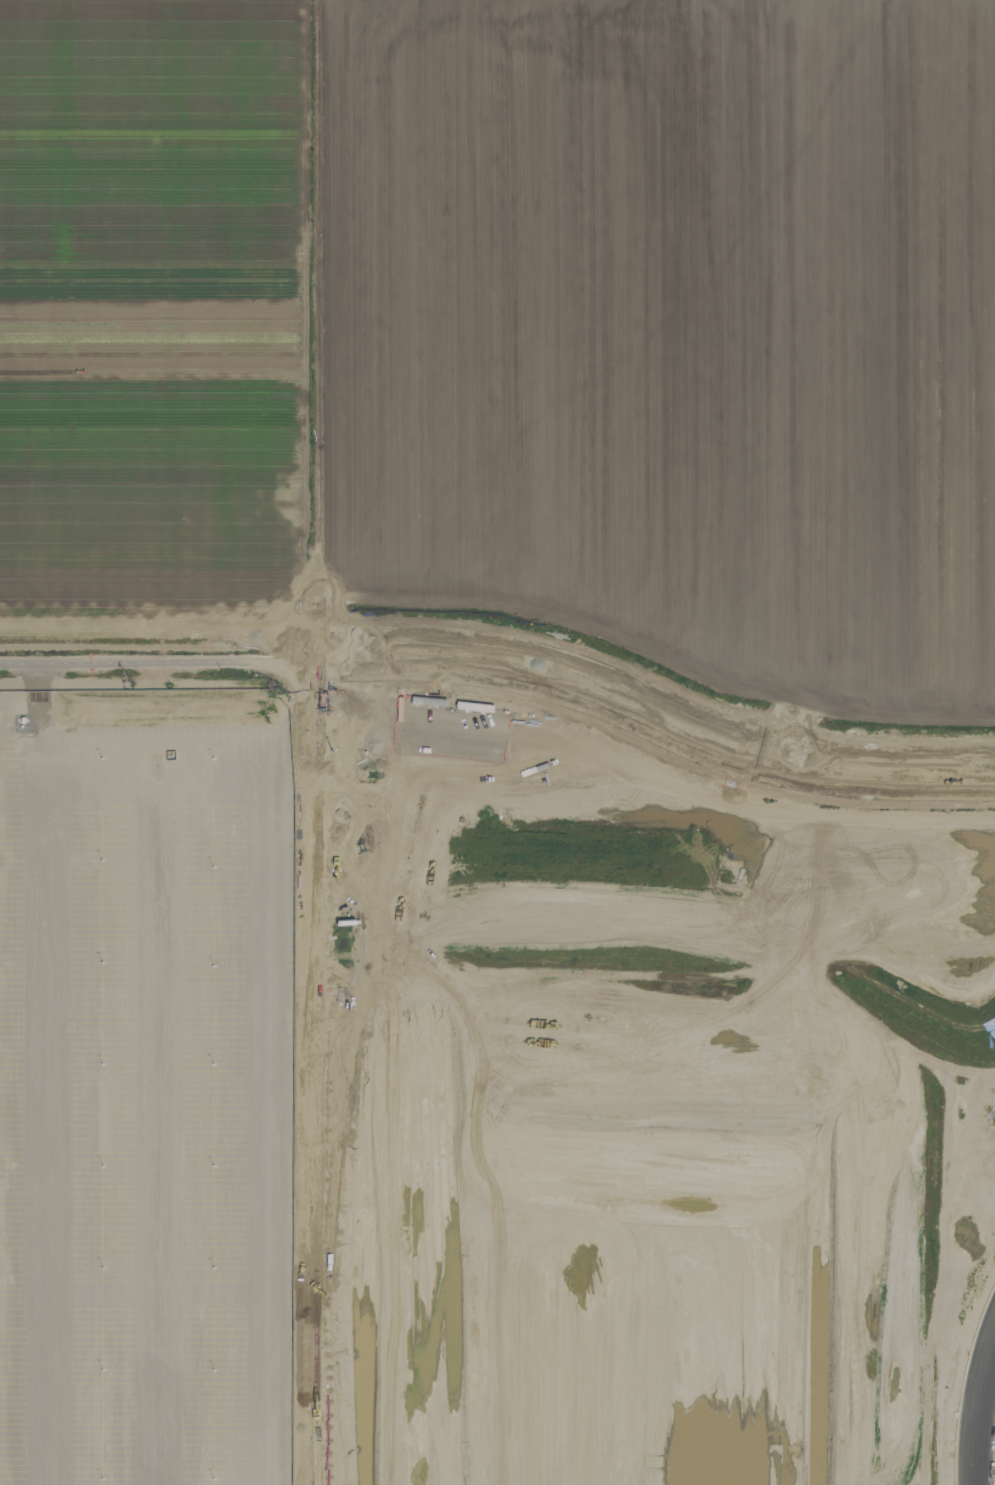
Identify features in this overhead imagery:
crop: (157, 323)
crop: (655, 391)
road: (154, 659)
road: (101, 695)
road: (40, 701)
road: (652, 713)
road: (148, 723)
building: (202, 732)
building: (257, 734)
building: (33, 737)
road: (78, 737)
building: (172, 739)
building: (119, 754)
building: (171, 762)
building: (67, 792)
building: (191, 793)
building: (104, 807)
building: (75, 818)
building: (231, 818)
building: (519, 829)
building: (146, 859)
building: (75, 870)
building: (519, 885)
building: (645, 995)
building: (151, 1000)
road: (306, 1044)
building: (147, 1099)
building: (220, 1137)
building: (222, 1208)
road: (977, 1409)

